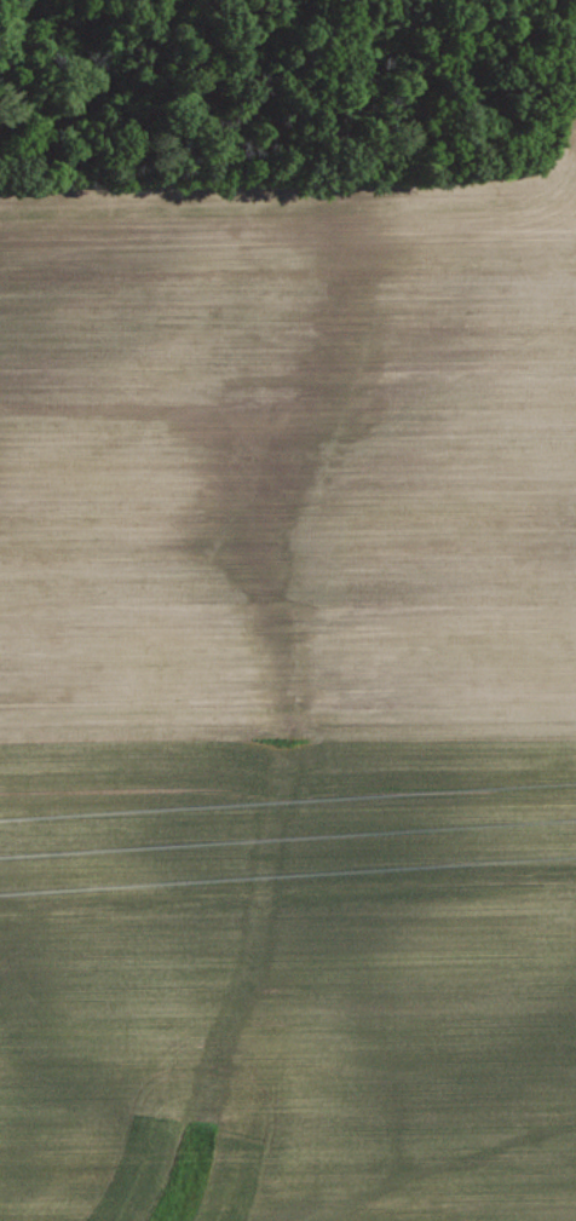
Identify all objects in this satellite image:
road: (288, 894)

